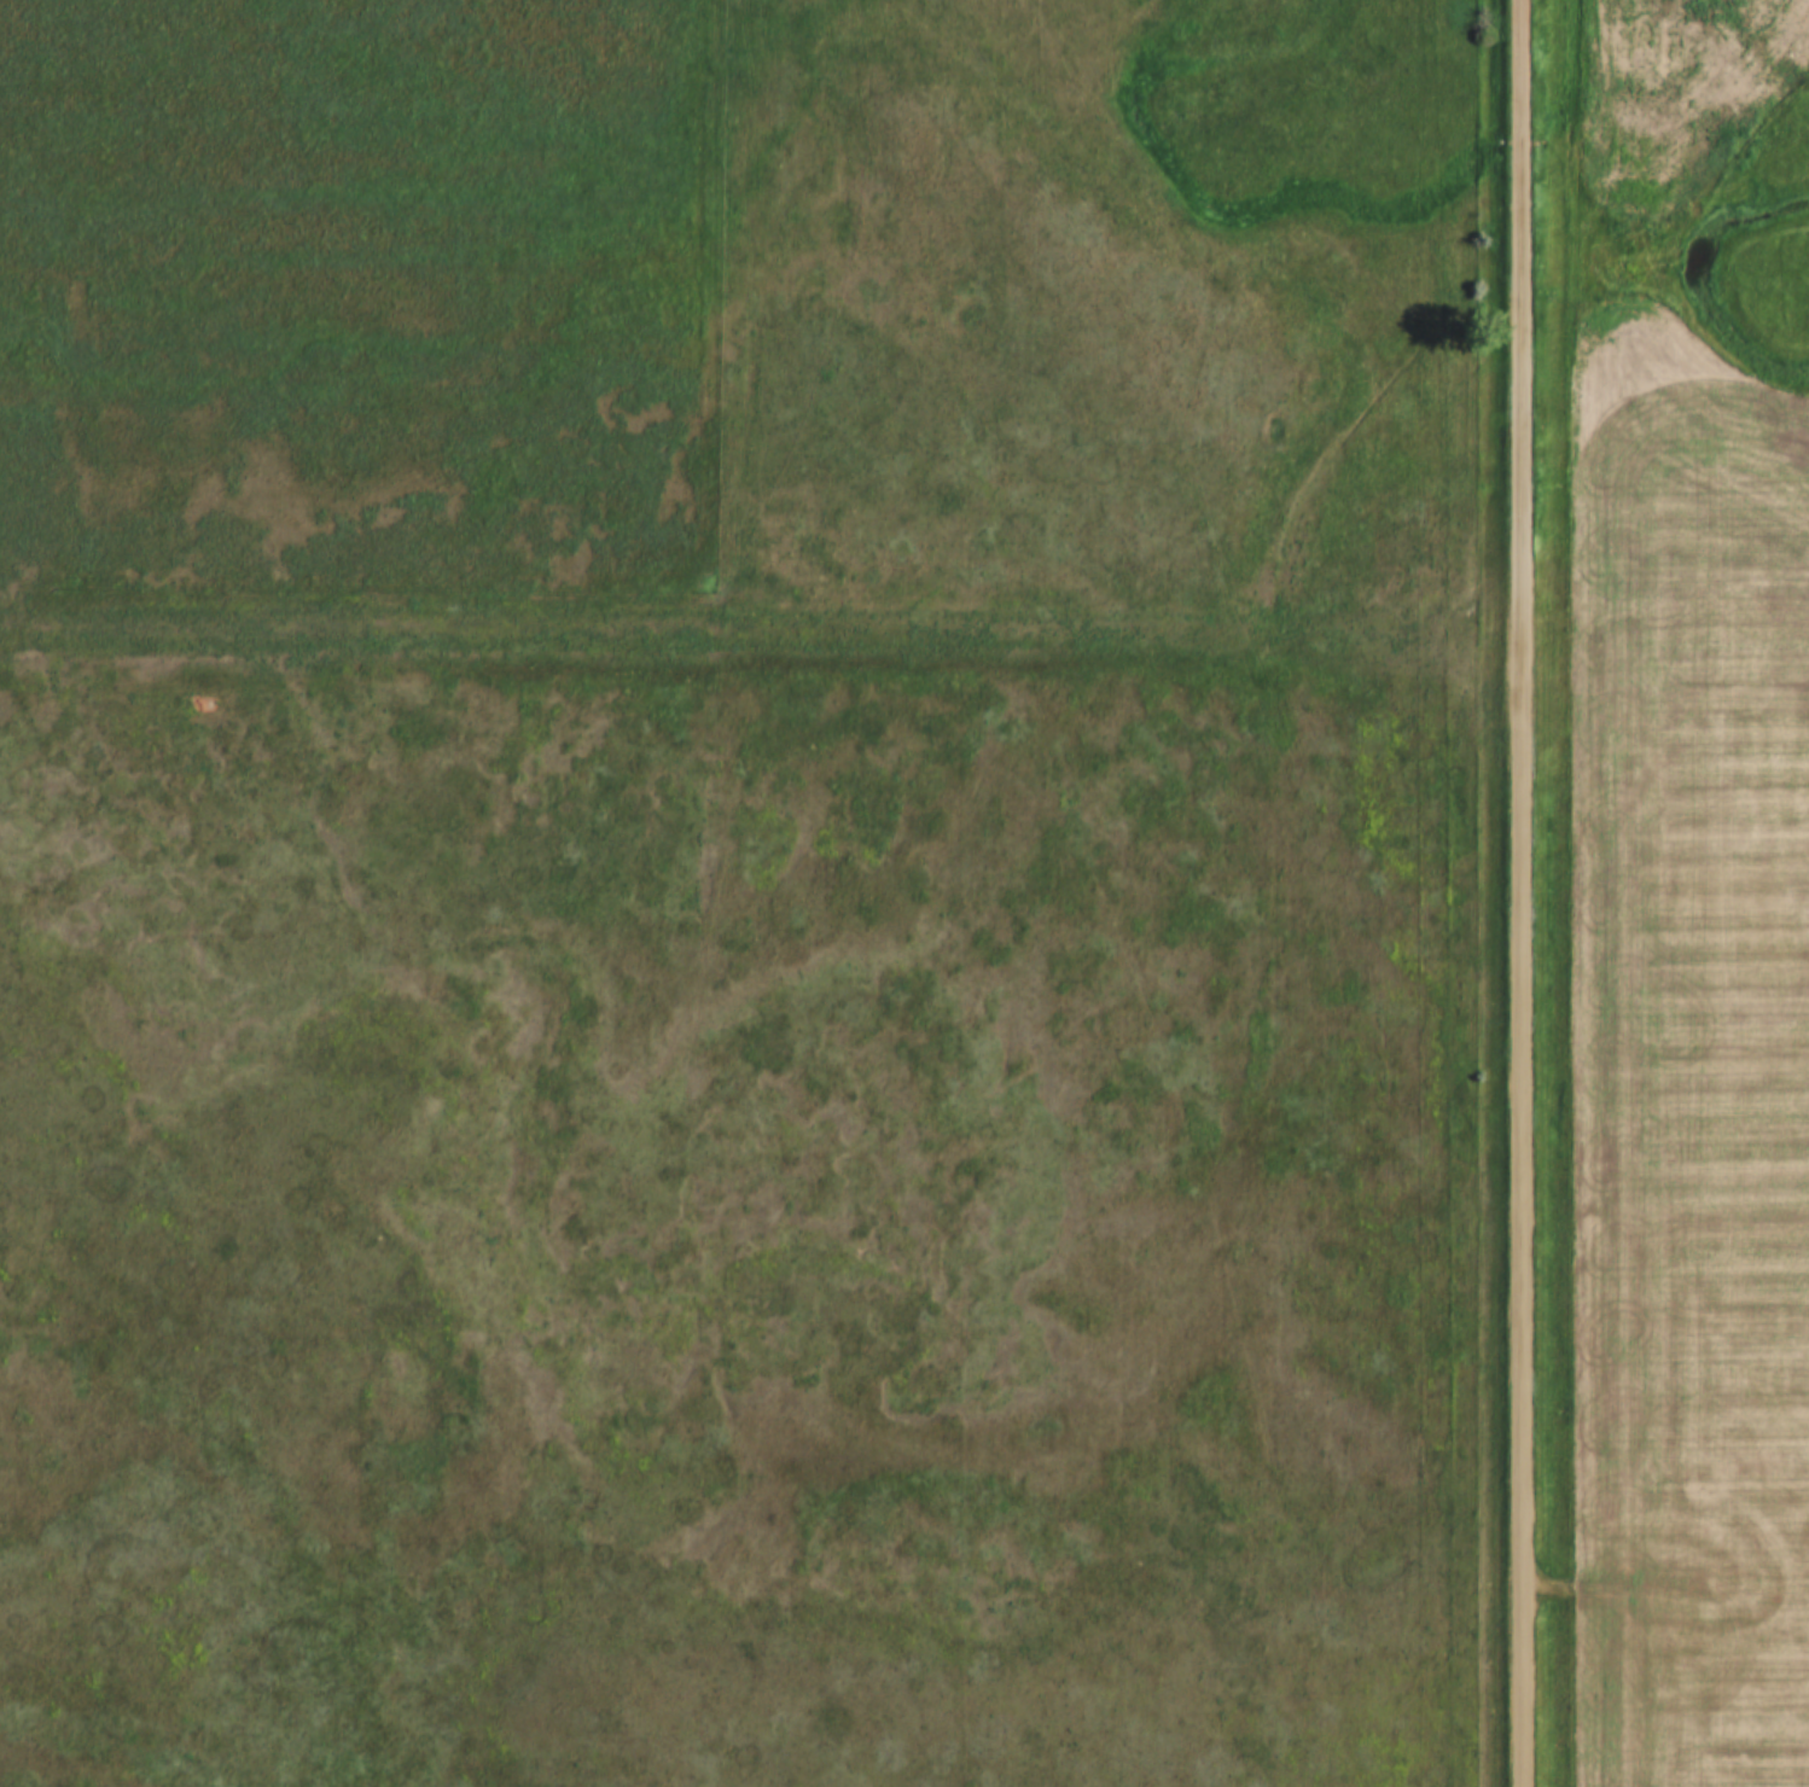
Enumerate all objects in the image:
road: (1523, 892)

